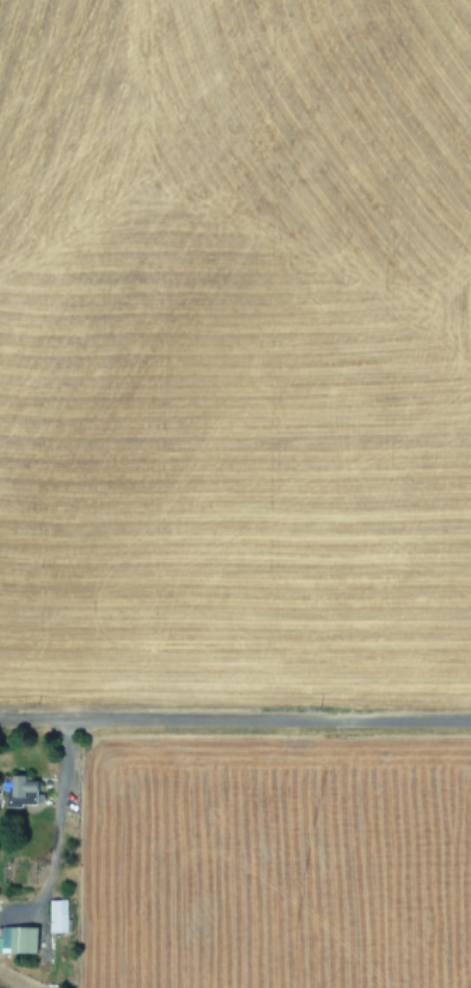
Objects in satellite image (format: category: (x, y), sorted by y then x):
crop: (235, 339)
road: (235, 717)
building: (21, 791)
road: (55, 823)
crop: (235, 875)
building: (56, 915)
building: (18, 938)

